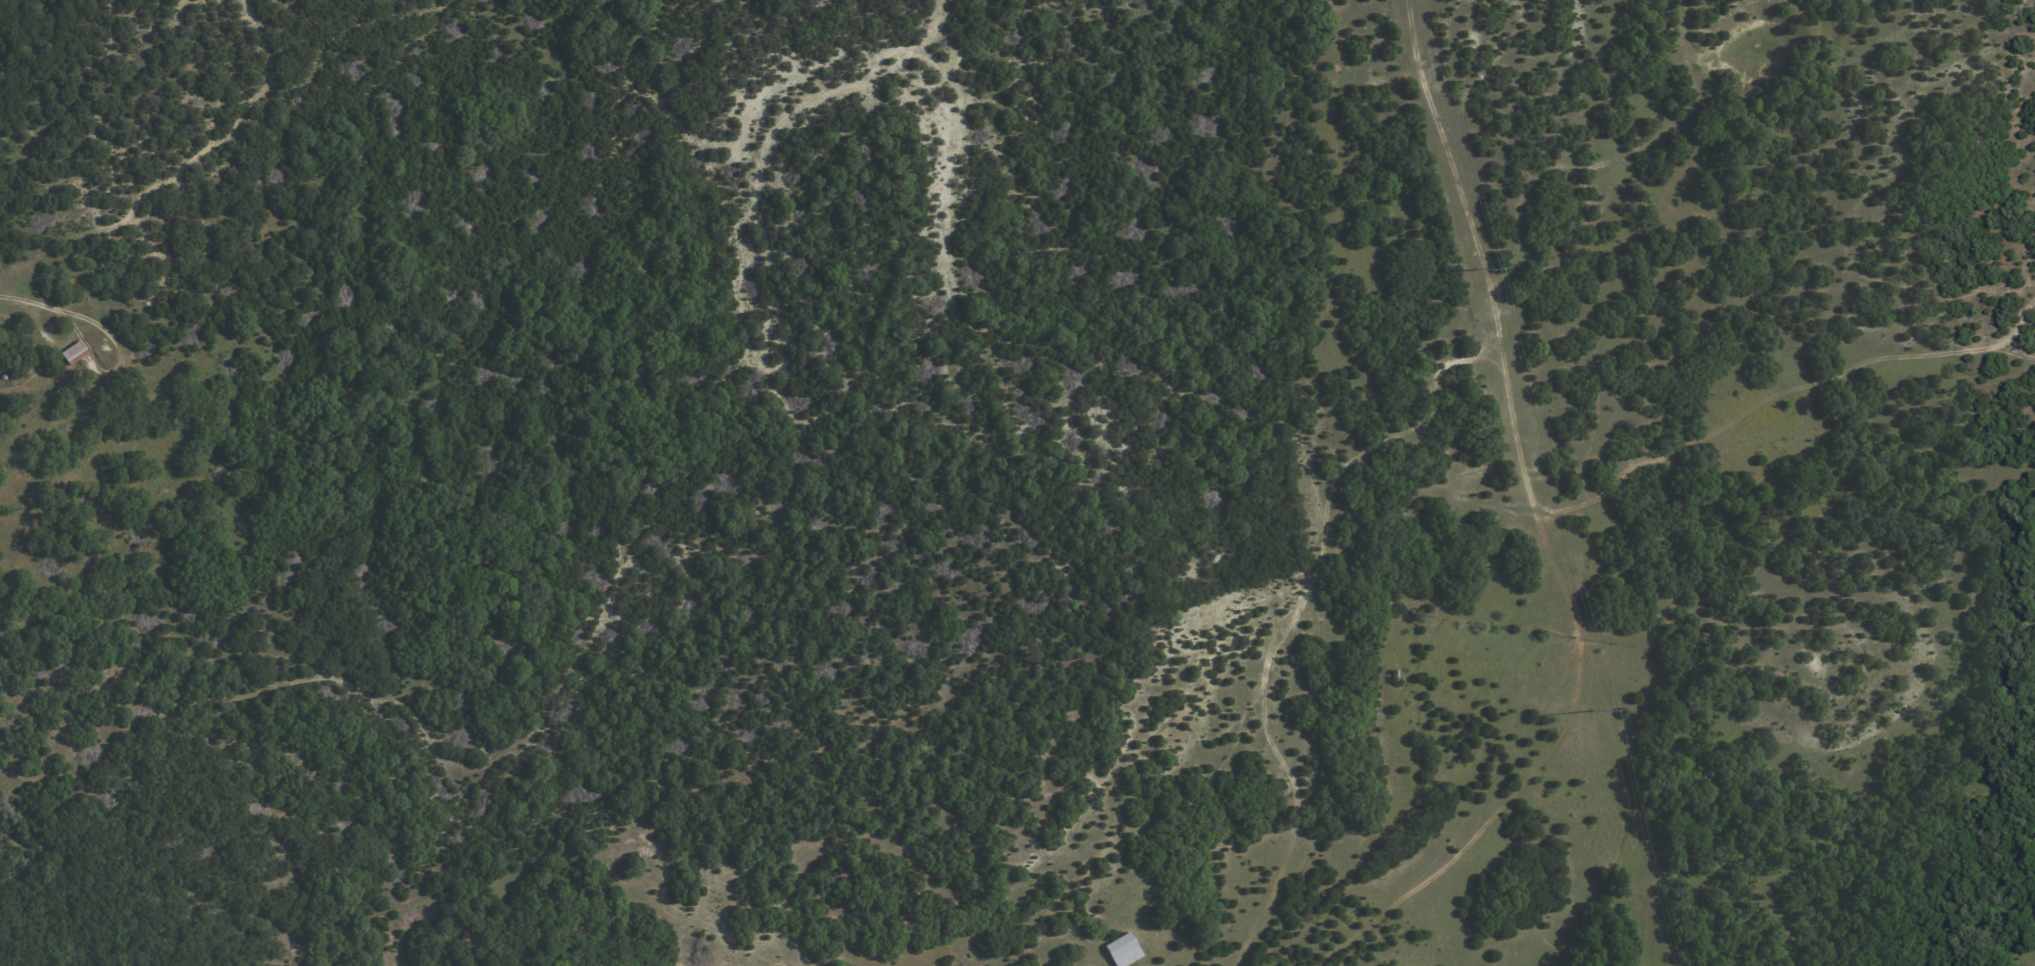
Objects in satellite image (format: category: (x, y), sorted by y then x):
power tower: (1478, 269)
road: (32, 302)
power tower: (1593, 711)
building: (1121, 950)

